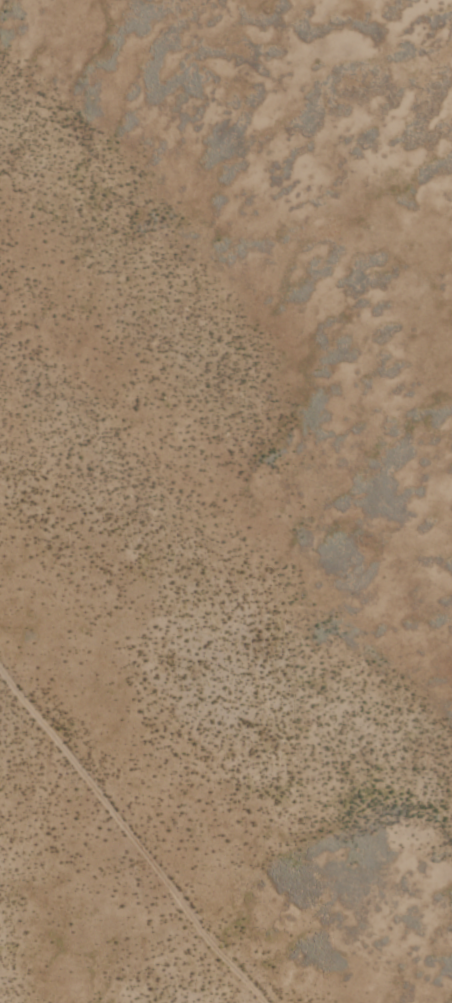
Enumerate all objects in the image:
road: (128, 833)

